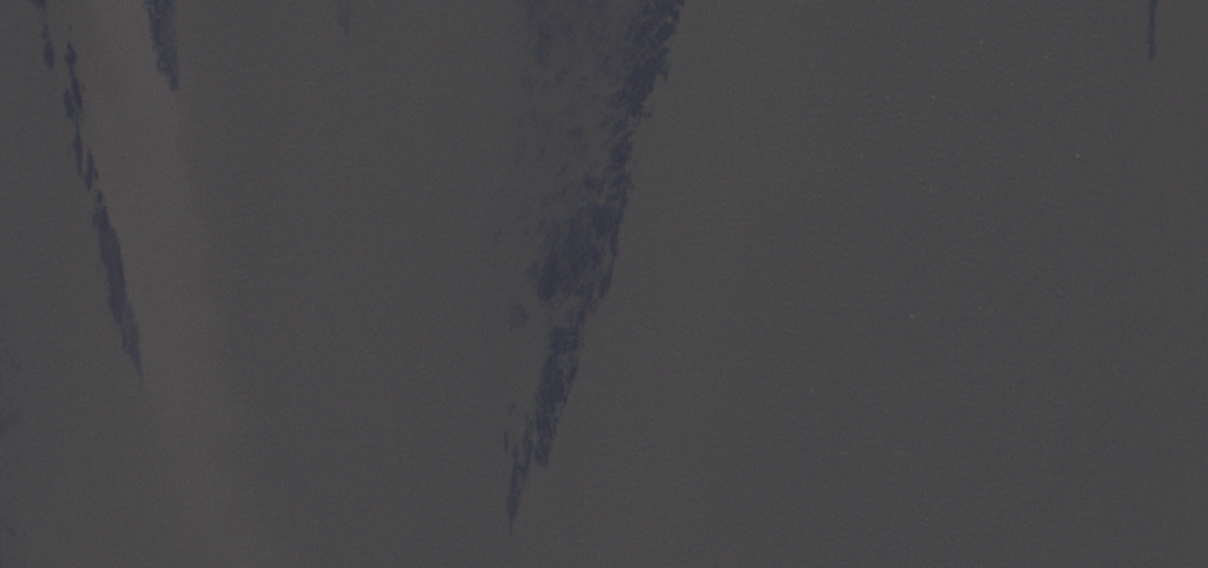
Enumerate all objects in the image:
river: (880, 283)

